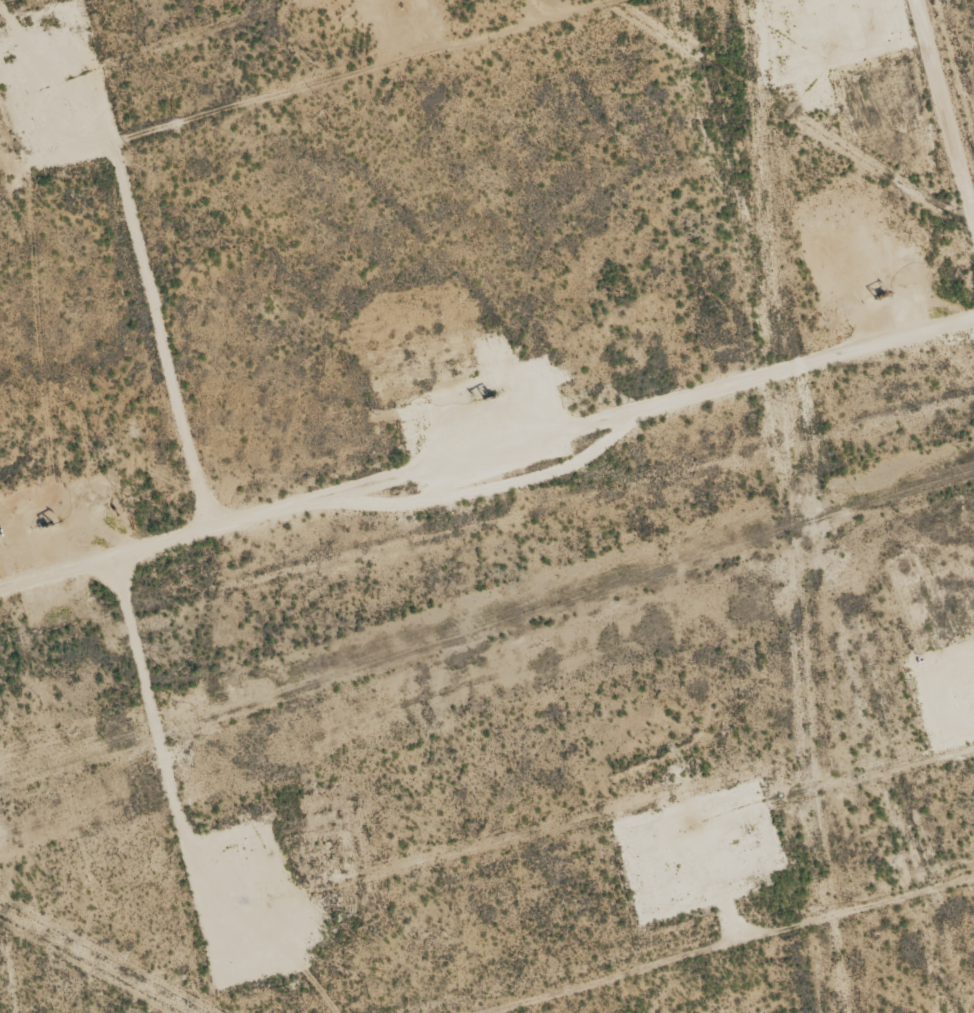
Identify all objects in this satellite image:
road: (917, 206)
road: (486, 444)

